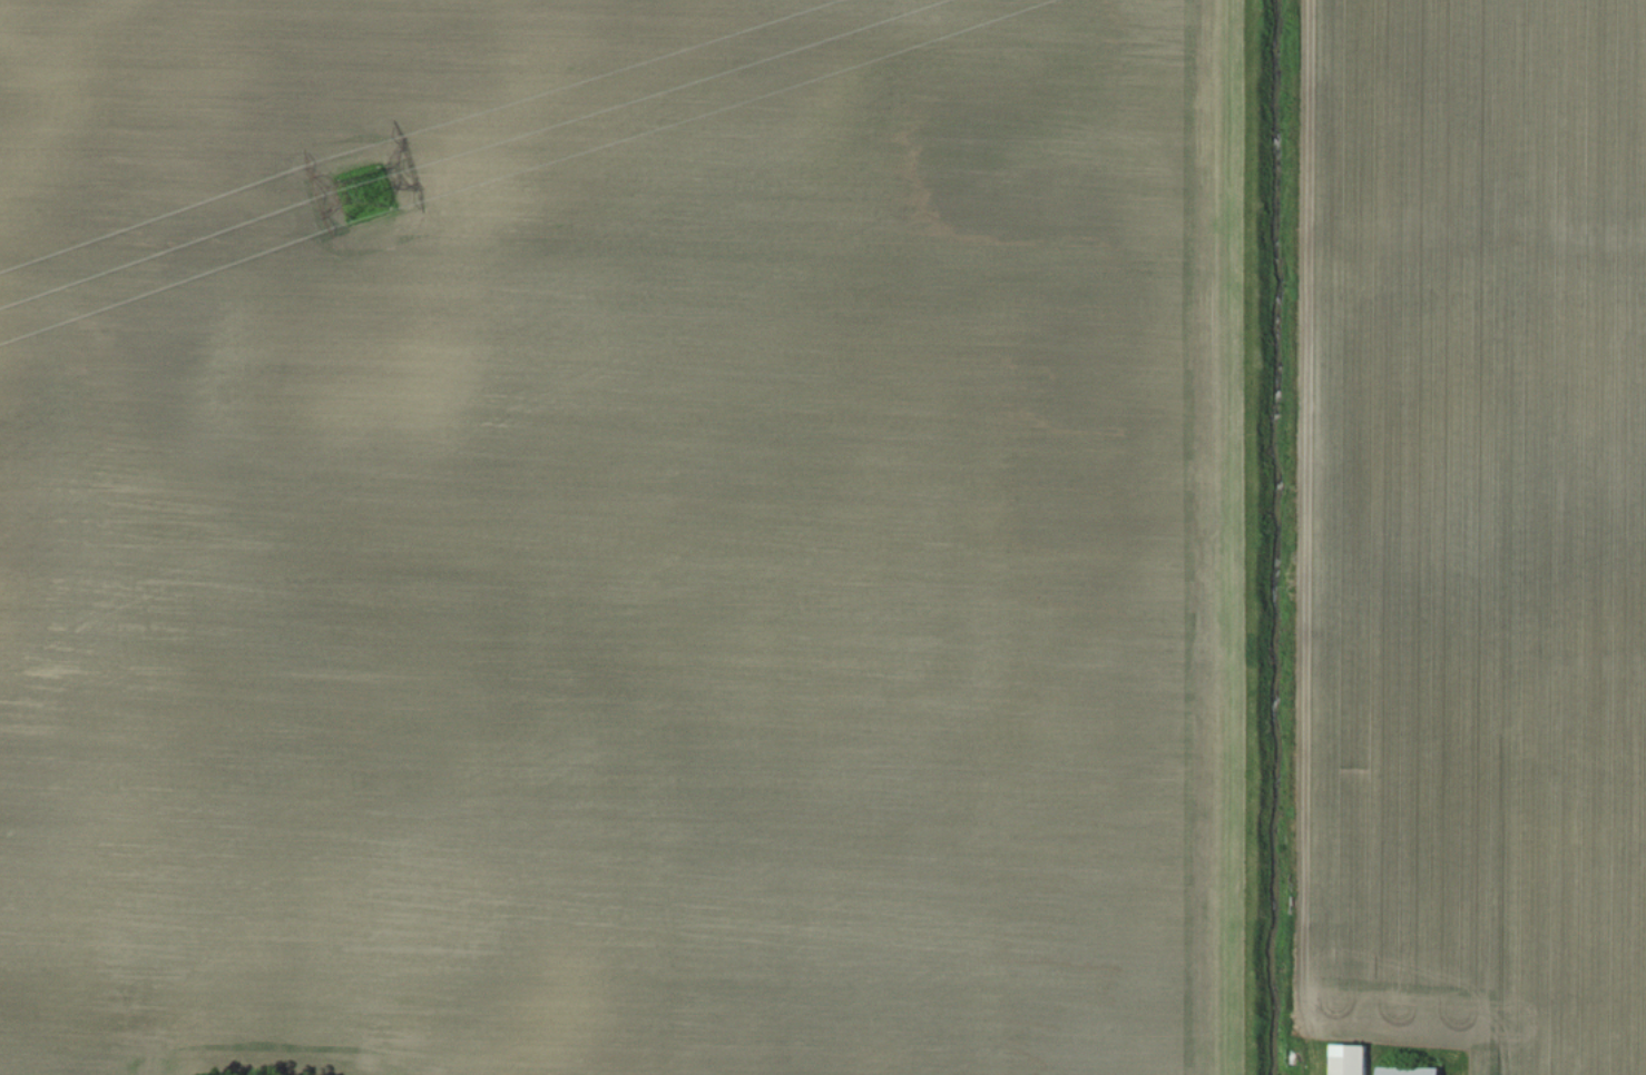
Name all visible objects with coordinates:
power tower: (402, 176)

